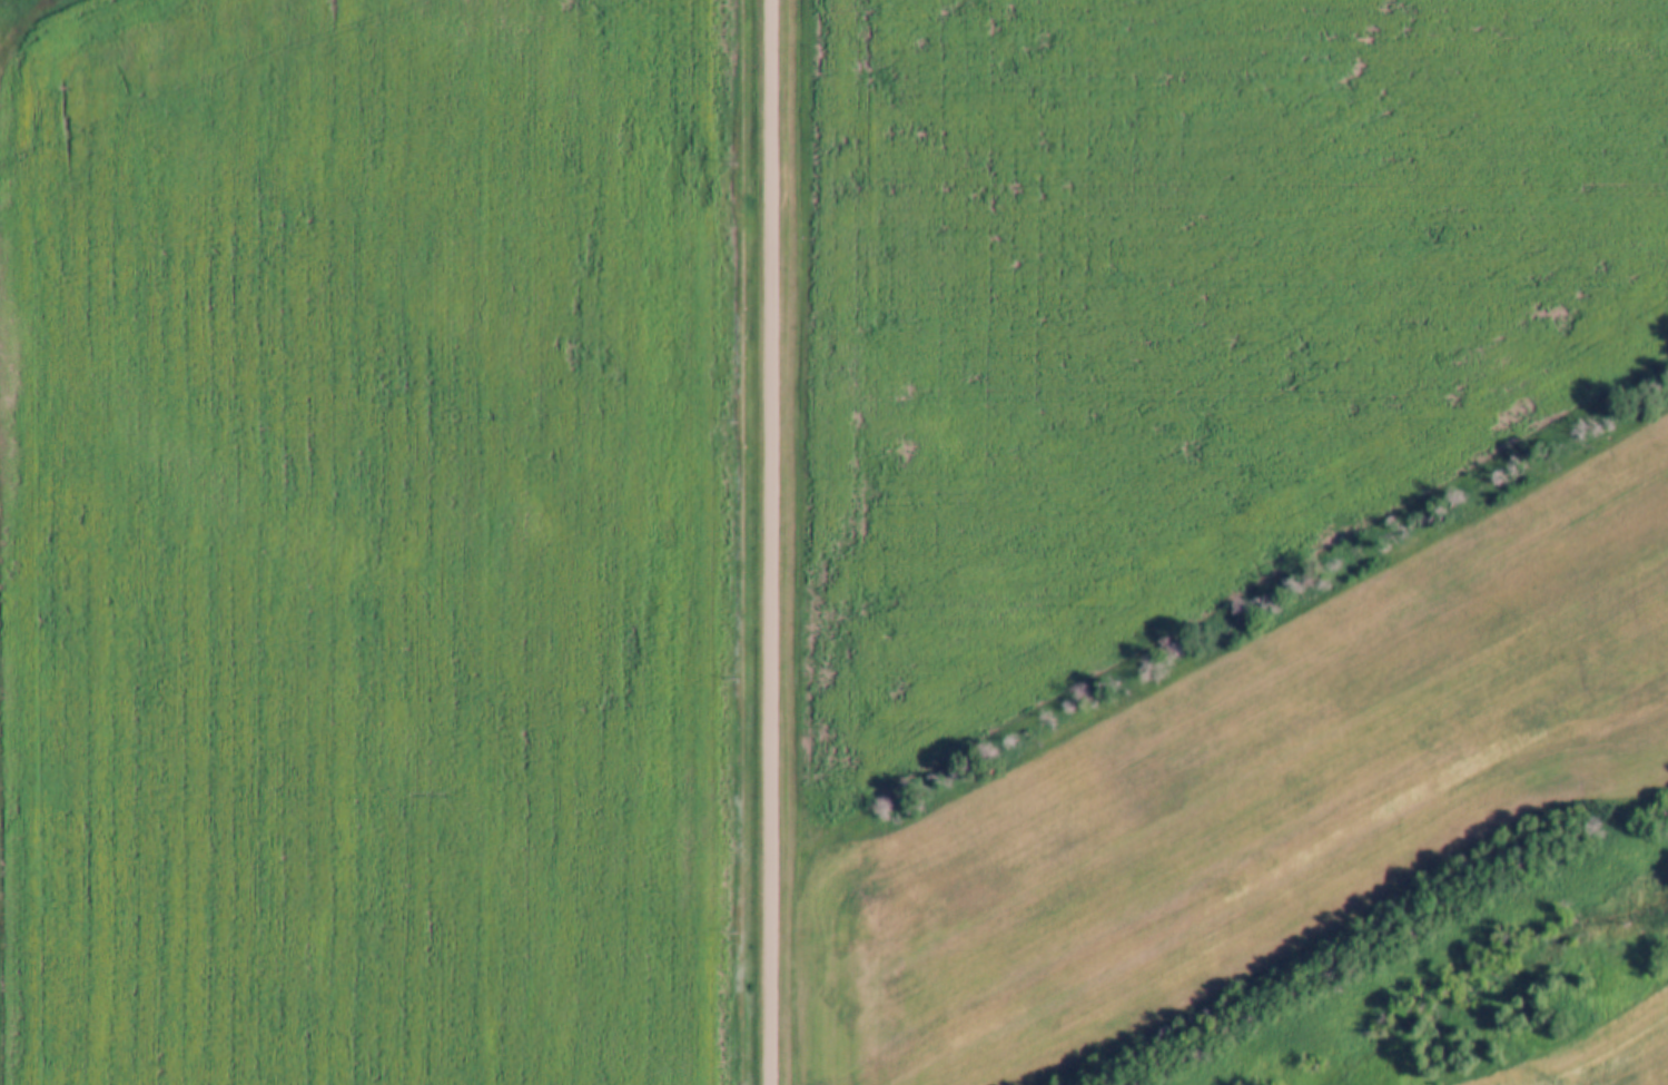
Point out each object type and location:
road: (771, 542)

